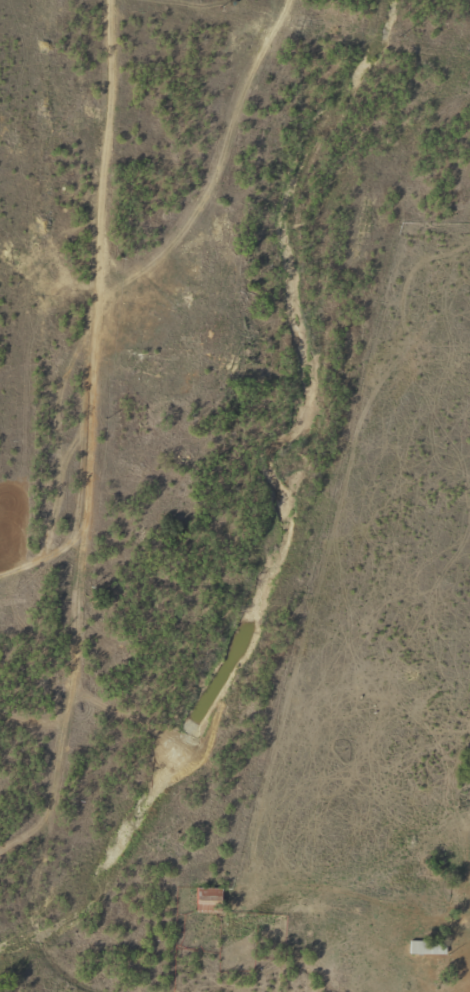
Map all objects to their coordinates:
road: (90, 497)
building: (205, 896)
building: (423, 947)

